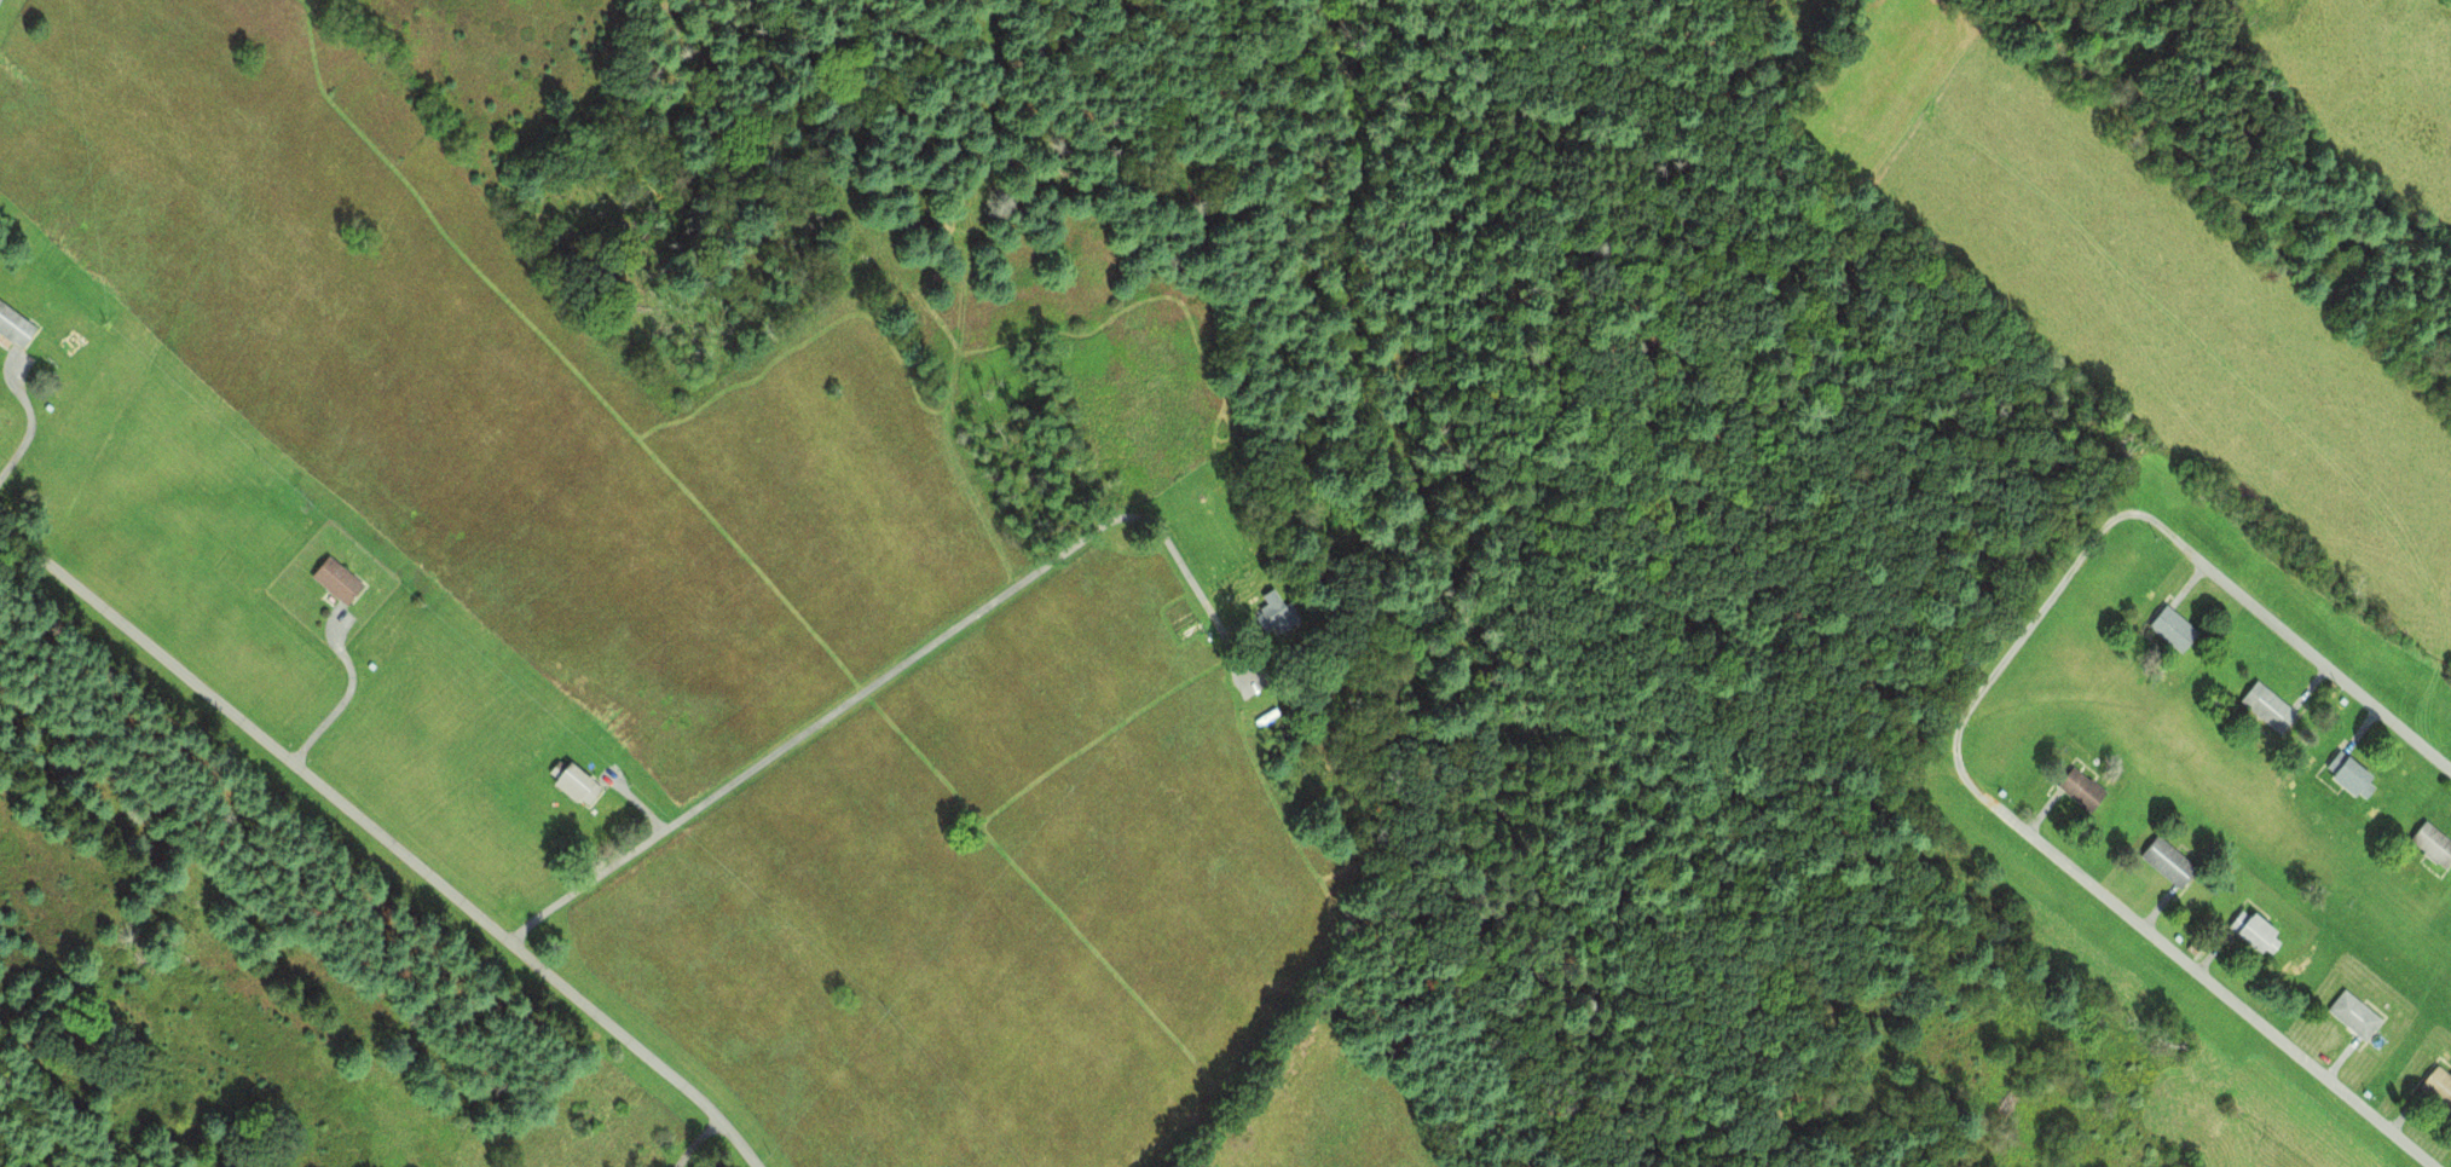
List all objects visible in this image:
building: (13, 328)
building: (335, 580)
building: (2170, 628)
road: (900, 664)
building: (2266, 709)
road: (1966, 724)
building: (2347, 774)
building: (573, 785)
building: (2077, 788)
road: (387, 837)
building: (2430, 844)
building: (2164, 860)
building: (2249, 929)
building: (2348, 1013)
building: (2436, 1086)
road: (698, 1143)

